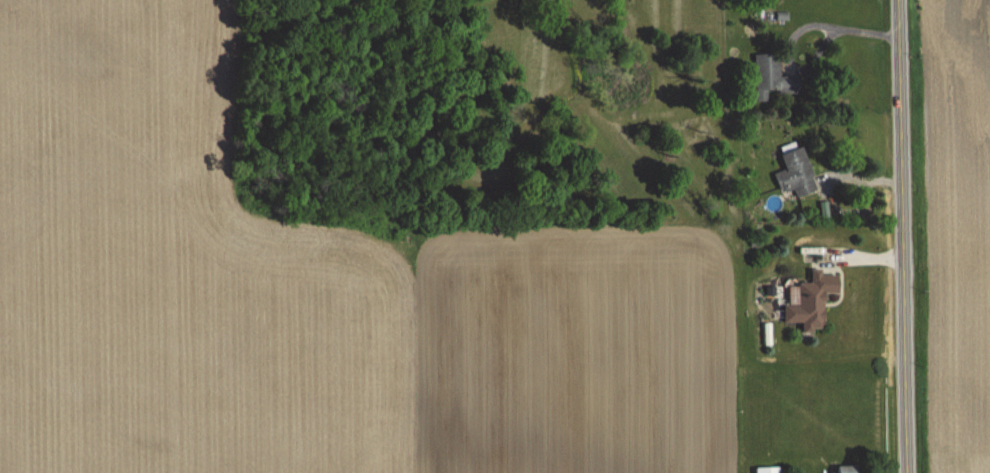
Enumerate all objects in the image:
road: (840, 29)
building: (773, 75)
building: (795, 172)
road: (898, 236)
building: (813, 300)
building: (848, 469)
building: (769, 470)

